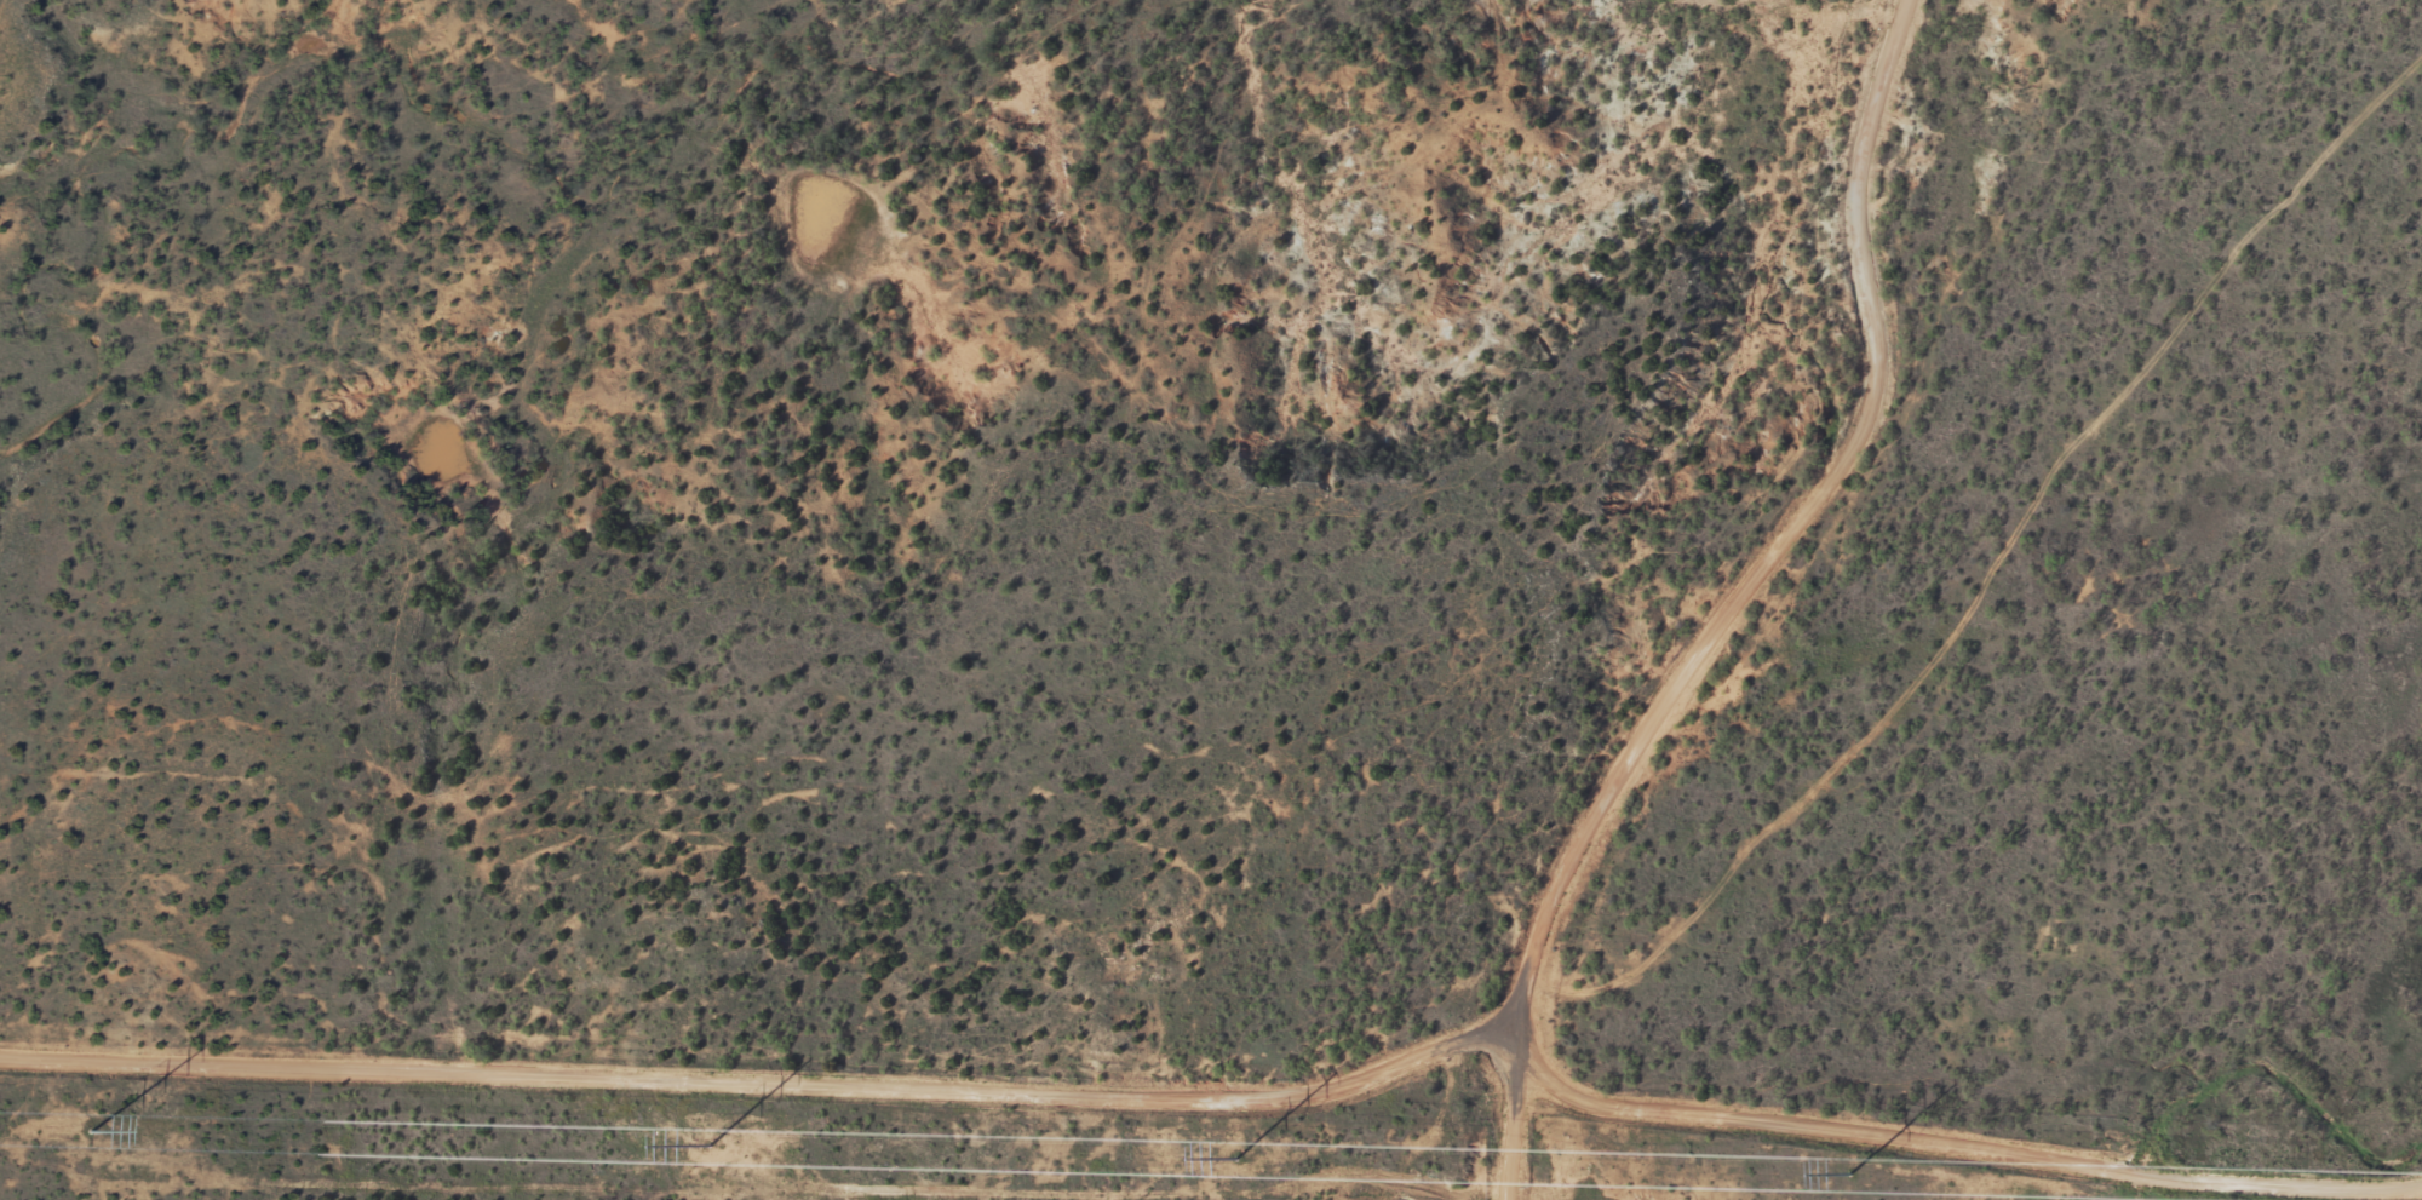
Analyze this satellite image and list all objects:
road: (1735, 602)
road: (1234, 1097)
power tower: (93, 1129)
power tower: (711, 1143)
power tower: (1238, 1155)
power tower: (1853, 1171)

